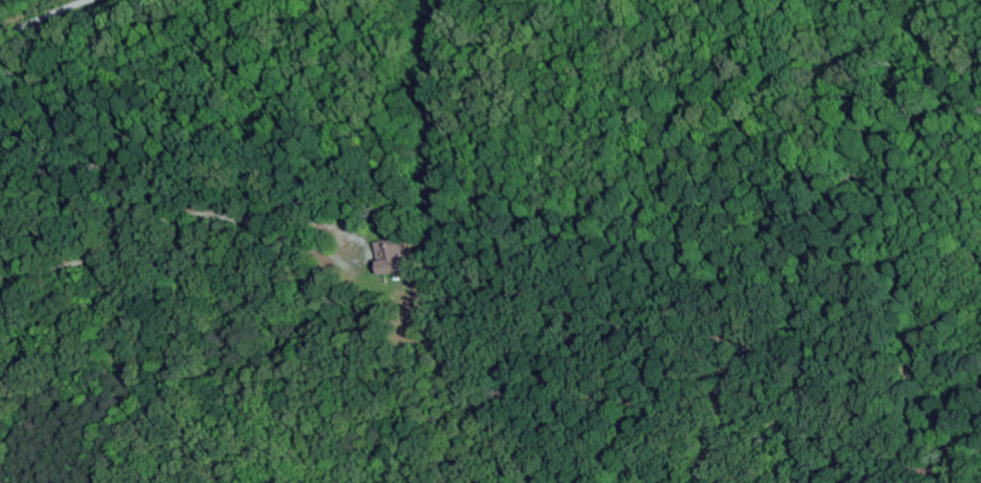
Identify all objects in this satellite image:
road: (50, 17)
road: (174, 222)
building: (392, 260)

